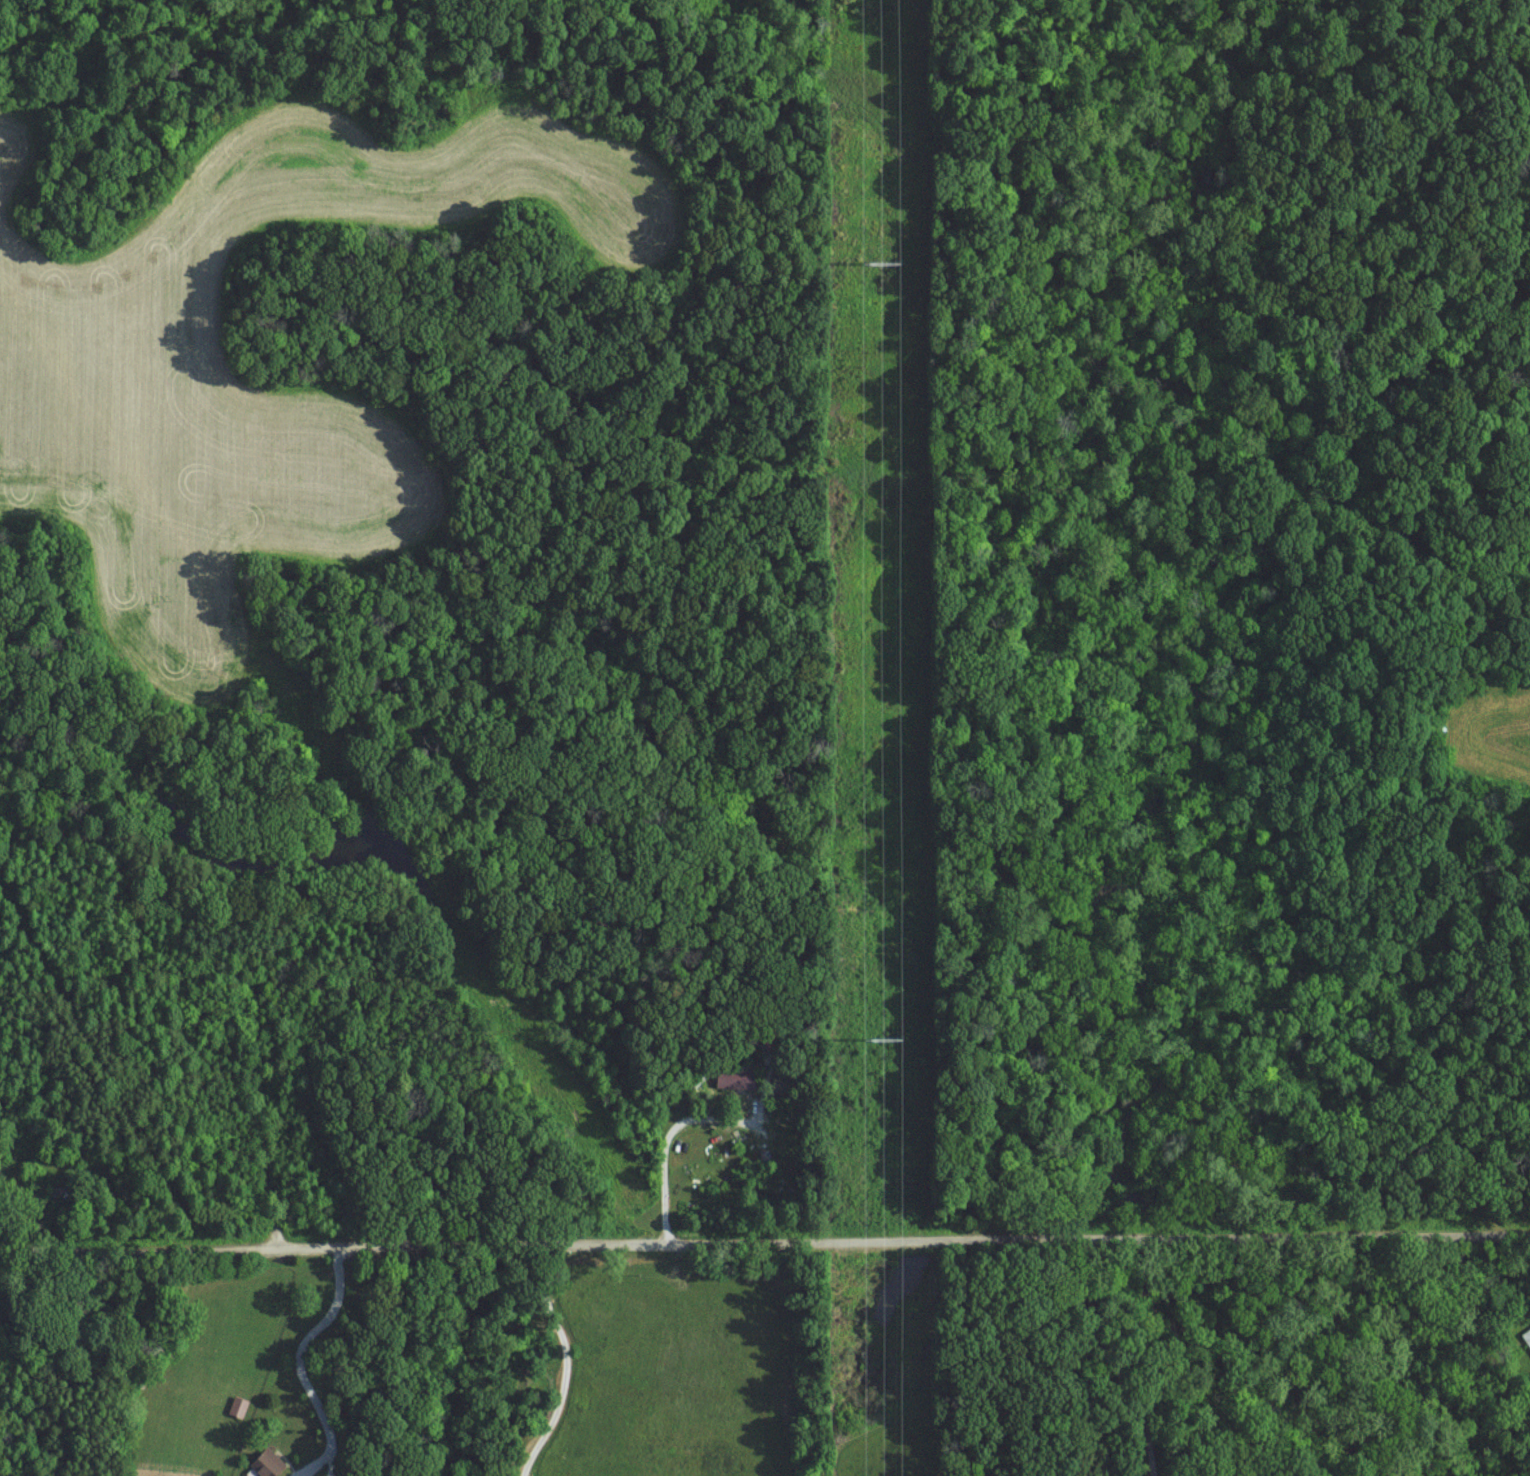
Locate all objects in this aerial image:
power tower: (885, 264)
power tower: (883, 1042)
building: (731, 1078)
road: (665, 1144)
road: (764, 1241)
building: (1526, 1336)
road: (567, 1361)
road: (300, 1364)
building: (240, 1407)
building: (267, 1465)

